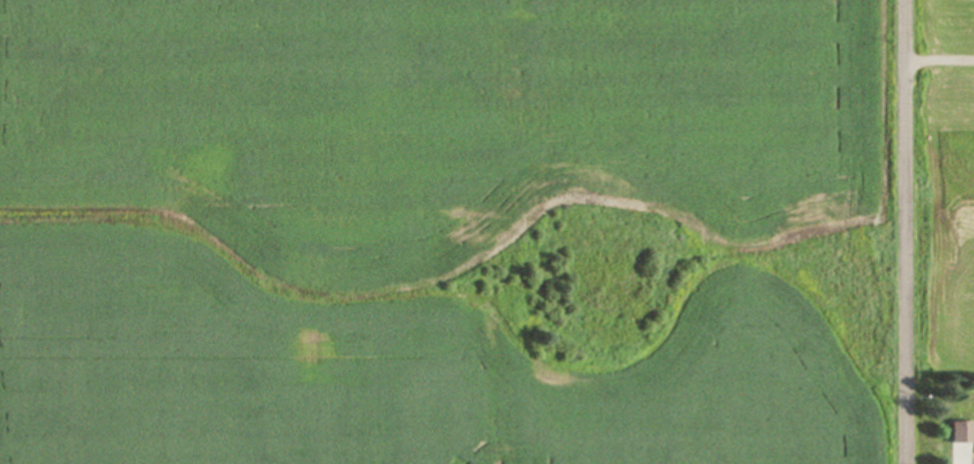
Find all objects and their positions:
road: (913, 232)

